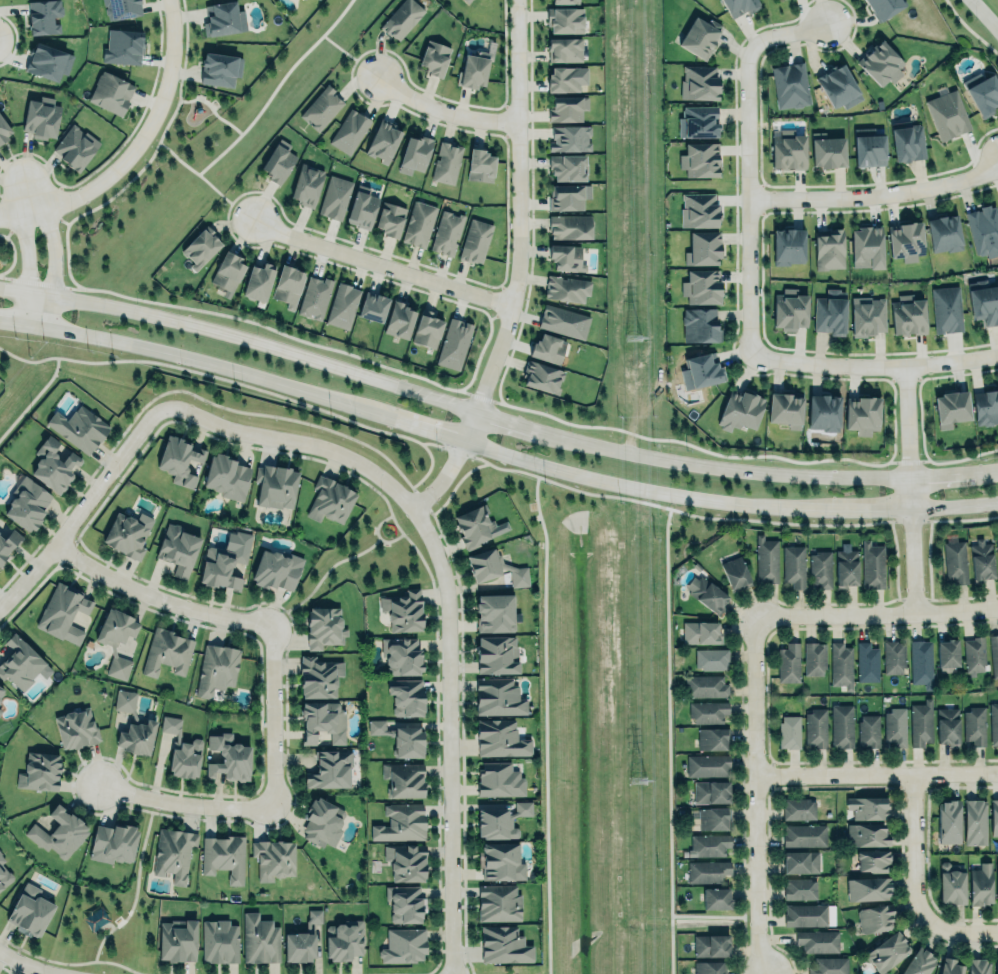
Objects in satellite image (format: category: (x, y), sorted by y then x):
building: (317, 0)
building: (469, 0)
building: (565, 1)
building: (740, 6)
building: (885, 7)
building: (122, 9)
road: (984, 14)
building: (45, 17)
building: (403, 19)
building: (565, 20)
building: (225, 22)
building: (700, 38)
building: (123, 47)
building: (565, 50)
road: (349, 54)
building: (434, 58)
building: (48, 62)
building: (880, 63)
building: (220, 65)
building: (474, 69)
building: (566, 79)
building: (699, 82)
building: (790, 85)
building: (838, 87)
road: (276, 88)
building: (113, 93)
building: (985, 96)
road: (207, 103)
building: (321, 108)
road: (441, 108)
building: (567, 108)
building: (949, 115)
building: (41, 118)
building: (698, 122)
building: (4, 130)
building: (350, 131)
road: (143, 133)
building: (570, 138)
building: (383, 142)
building: (909, 144)
building: (75, 147)
building: (787, 149)
building: (869, 151)
building: (828, 152)
building: (414, 154)
road: (748, 159)
building: (700, 160)
building: (278, 162)
building: (446, 163)
building: (480, 166)
building: (569, 167)
road: (199, 175)
building: (307, 185)
road: (876, 193)
road: (29, 194)
building: (336, 197)
building: (568, 197)
building: (363, 207)
building: (699, 211)
road: (16, 212)
building: (390, 219)
building: (418, 222)
building: (571, 227)
building: (983, 230)
building: (446, 232)
building: (945, 234)
building: (475, 239)
building: (906, 241)
road: (53, 244)
road: (26, 247)
building: (703, 247)
building: (788, 247)
building: (866, 247)
building: (200, 248)
building: (829, 250)
building: (567, 258)
road: (381, 264)
road: (512, 268)
building: (228, 273)
building: (258, 281)
building: (288, 287)
building: (702, 287)
building: (568, 288)
building: (314, 297)
building: (341, 304)
road: (42, 305)
building: (985, 305)
building: (374, 307)
building: (947, 309)
building: (790, 310)
building: (831, 313)
building: (868, 316)
building: (908, 316)
building: (399, 320)
building: (565, 322)
building: (701, 326)
building: (427, 330)
power tower: (633, 340)
building: (454, 344)
building: (547, 345)
road: (875, 364)
building: (702, 372)
building: (542, 374)
road: (33, 399)
building: (986, 407)
building: (785, 409)
building: (952, 409)
building: (740, 410)
building: (824, 413)
road: (494, 414)
building: (863, 415)
building: (78, 427)
road: (493, 450)
building: (179, 460)
building: (53, 465)
building: (226, 476)
building: (275, 485)
road: (911, 489)
building: (26, 501)
building: (329, 501)
road: (83, 504)
building: (474, 525)
building: (127, 533)
road: (378, 536)
building: (996, 540)
building: (8, 543)
building: (177, 547)
building: (224, 559)
building: (981, 559)
building: (766, 560)
building: (955, 561)
building: (483, 563)
building: (872, 564)
building: (794, 565)
building: (276, 567)
building: (845, 567)
building: (820, 569)
building: (735, 574)
road: (321, 577)
building: (707, 593)
road: (155, 599)
road: (444, 602)
building: (403, 609)
building: (62, 611)
building: (494, 613)
road: (877, 616)
building: (115, 624)
building: (324, 627)
building: (701, 631)
building: (167, 652)
building: (947, 653)
building: (401, 654)
building: (994, 654)
building: (496, 655)
building: (974, 655)
building: (893, 656)
building: (814, 657)
building: (711, 659)
building: (921, 660)
building: (19, 661)
building: (866, 662)
building: (788, 663)
building: (840, 664)
building: (216, 669)
building: (318, 675)
building: (706, 686)
building: (1, 691)
building: (406, 697)
building: (498, 697)
building: (0, 710)
building: (708, 711)
road: (271, 715)
road: (545, 718)
building: (322, 720)
building: (921, 723)
building: (993, 724)
building: (133, 725)
building: (841, 726)
building: (947, 726)
building: (974, 726)
building: (815, 727)
building: (895, 727)
building: (76, 728)
building: (868, 730)
building: (789, 731)
road: (667, 733)
building: (401, 737)
building: (500, 738)
building: (713, 738)
building: (181, 750)
building: (228, 757)
building: (707, 764)
building: (38, 770)
building: (330, 771)
road: (878, 776)
power tower: (636, 777)
building: (404, 779)
building: (499, 780)
building: (711, 792)
road: (759, 796)
road: (183, 803)
building: (867, 807)
building: (798, 809)
building: (994, 816)
building: (713, 818)
building: (499, 820)
building: (400, 821)
building: (322, 822)
building: (948, 822)
building: (974, 822)
building: (60, 832)
building: (804, 835)
building: (866, 835)
building: (113, 843)
road: (916, 843)
building: (708, 845)
building: (174, 853)
building: (223, 857)
building: (273, 859)
building: (872, 859)
building: (405, 860)
building: (500, 860)
building: (800, 862)
building: (707, 870)
building: (4, 874)
building: (952, 883)
building: (997, 883)
building: (981, 885)
building: (867, 888)
building: (800, 889)
road: (135, 892)
building: (716, 897)
building: (498, 902)
building: (404, 904)
building: (29, 911)
building: (805, 915)
road: (715, 916)
building: (875, 917)
road: (956, 932)
building: (177, 939)
building: (260, 939)
building: (343, 940)
building: (818, 940)
building: (219, 941)
building: (403, 943)
building: (503, 944)
building: (710, 944)
building: (298, 945)
building: (887, 952)
building: (919, 962)
road: (28, 965)
building: (829, 965)
building: (996, 965)
building: (950, 966)
building: (978, 966)
building: (709, 967)
road: (457, 973)

